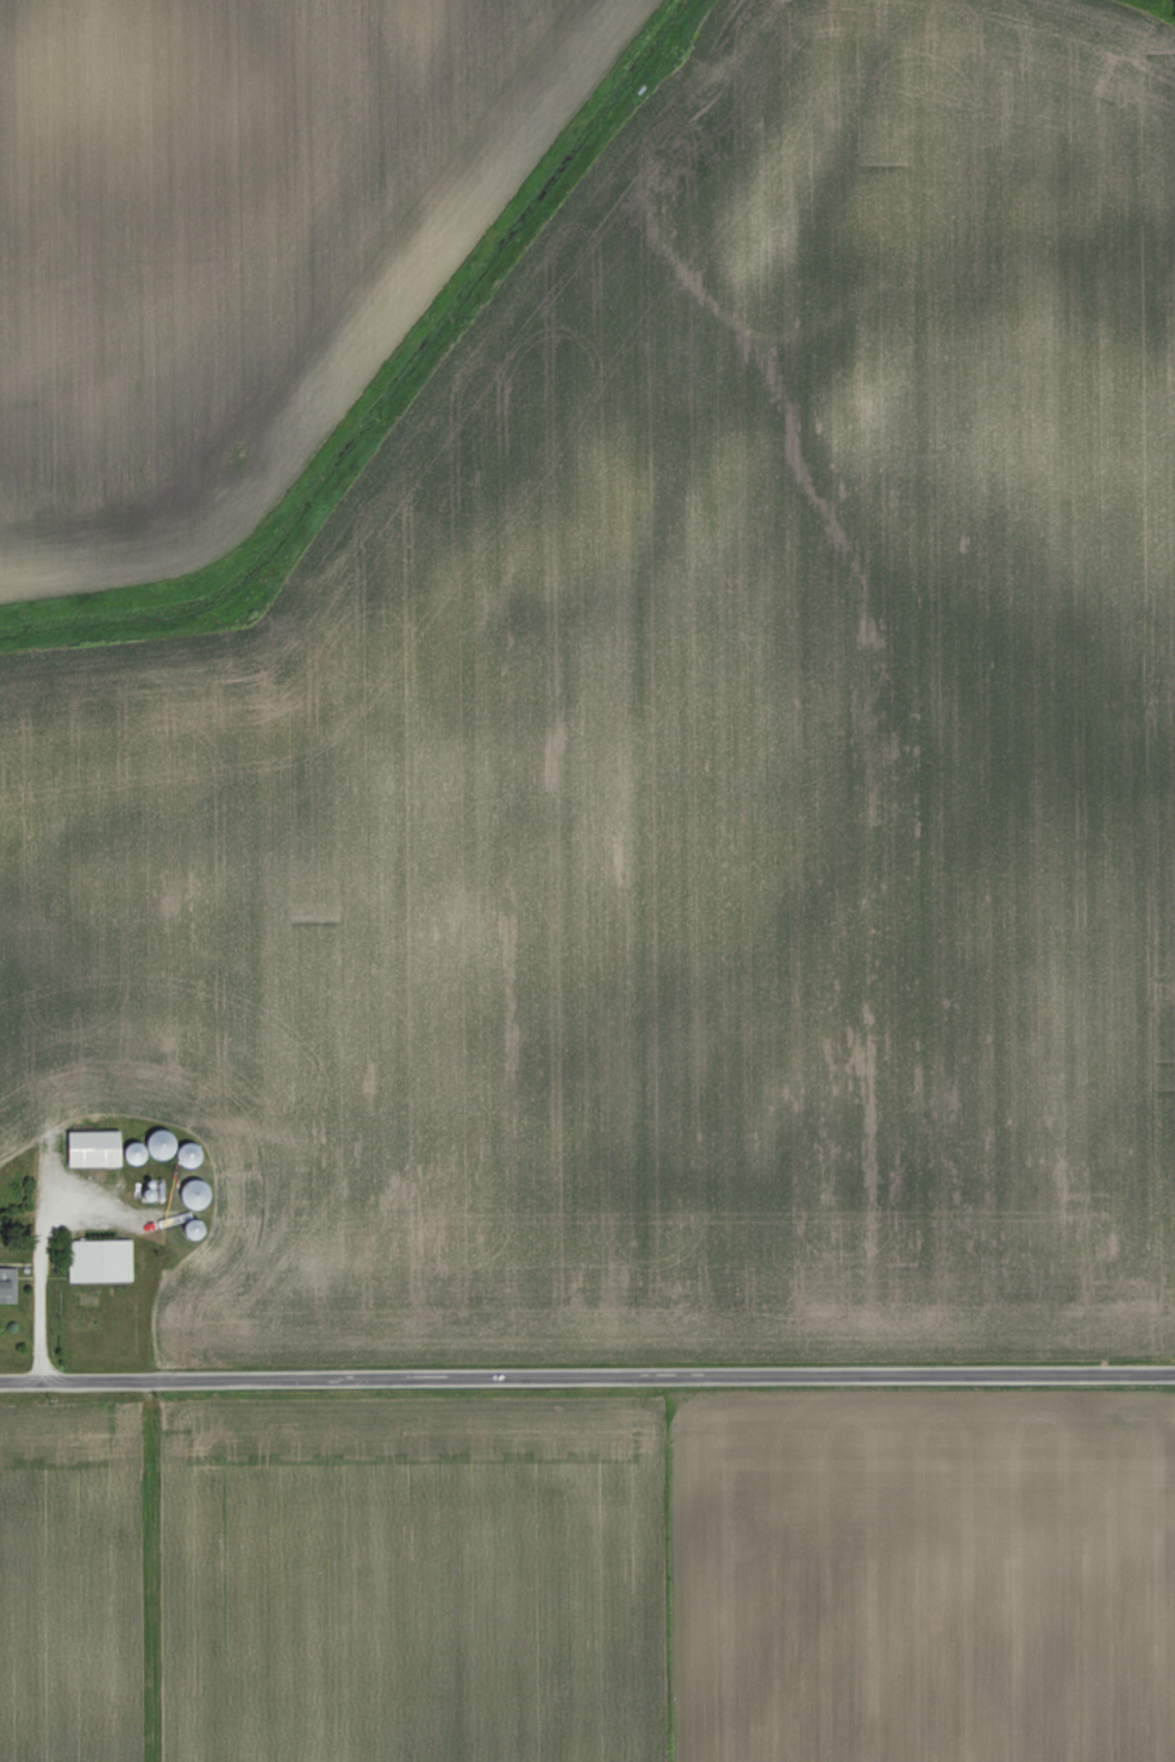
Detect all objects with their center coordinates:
railway: (1148, 6)
building: (107, 1148)
road: (42, 1270)
road: (587, 1379)

